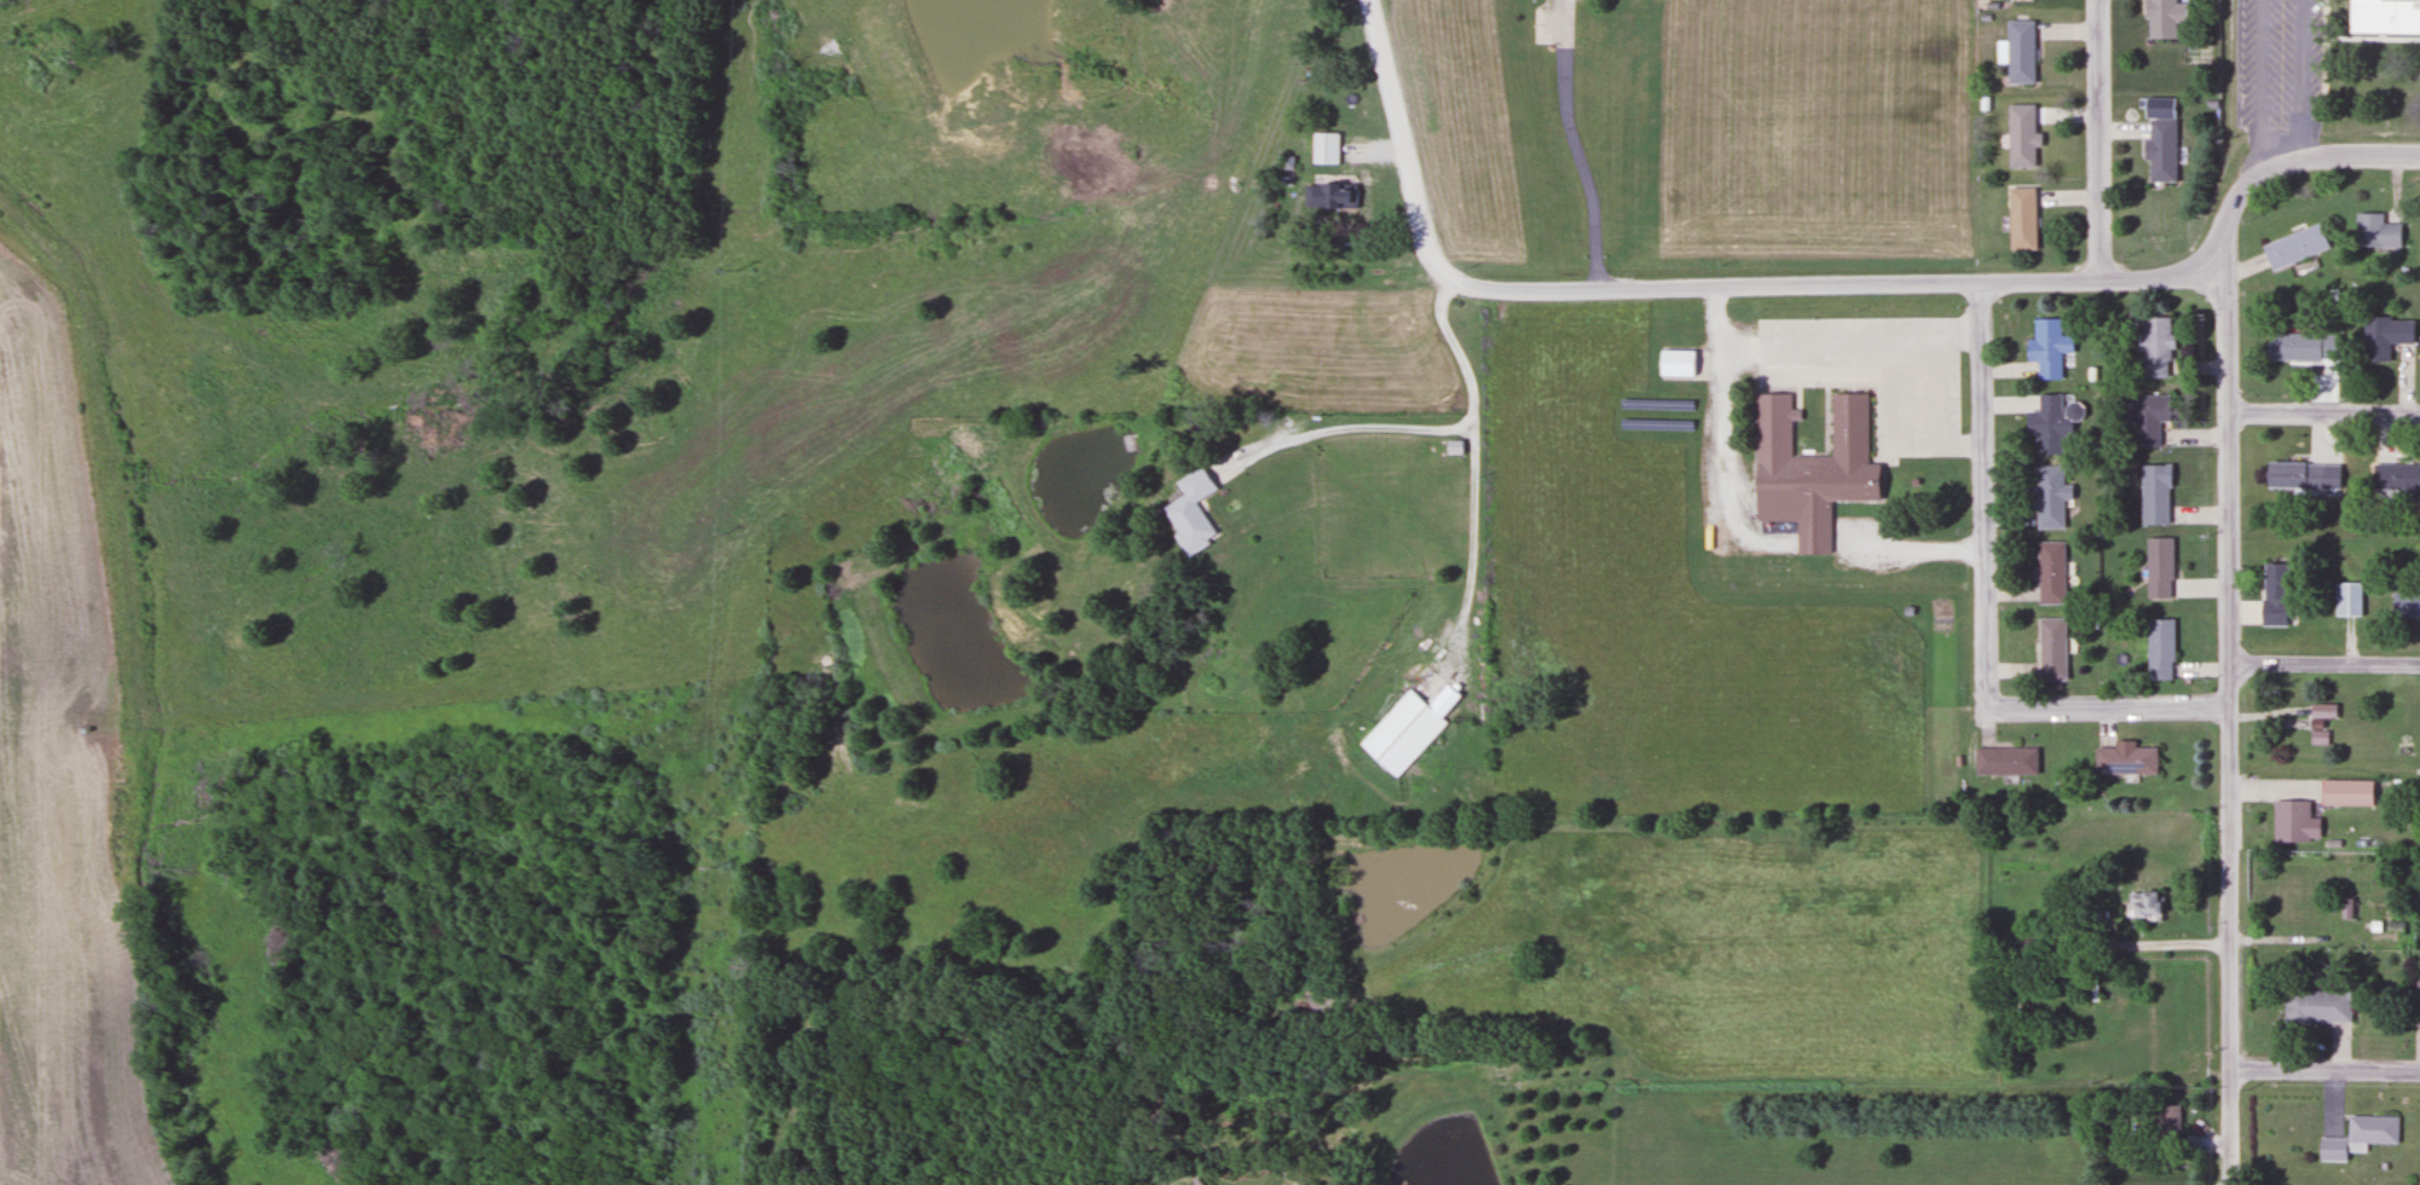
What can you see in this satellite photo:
building: (2384, 15)
building: (2162, 17)
building: (2017, 51)
road: (2298, 79)
road: (2260, 85)
building: (2020, 134)
road: (1398, 139)
road: (2101, 139)
road: (1572, 145)
building: (1324, 148)
building: (2160, 149)
road: (2338, 154)
building: (1328, 196)
building: (2020, 218)
building: (2374, 231)
building: (2293, 247)
road: (1831, 285)
building: (2383, 336)
building: (2154, 346)
building: (2297, 346)
building: (2046, 348)
road: (2323, 414)
building: (2143, 418)
building: (2048, 424)
road: (1421, 426)
building: (1819, 475)
building: (2294, 475)
building: (2395, 478)
road: (1982, 495)
building: (2153, 495)
building: (2050, 497)
building: (1188, 511)
building: (2158, 568)
building: (2050, 572)
building: (2272, 582)
building: (2346, 600)
building: (2404, 605)
building: (2050, 649)
building: (2158, 649)
road: (2324, 664)
road: (2229, 671)
road: (2106, 707)
building: (1405, 730)
building: (2124, 761)
building: (2004, 762)
building: (2345, 793)
building: (2293, 822)
building: (2143, 904)
building: (2416, 1005)
building: (2316, 1006)
road: (2324, 1069)
building: (2165, 1123)
building: (2357, 1138)
building: (1195, 1183)

